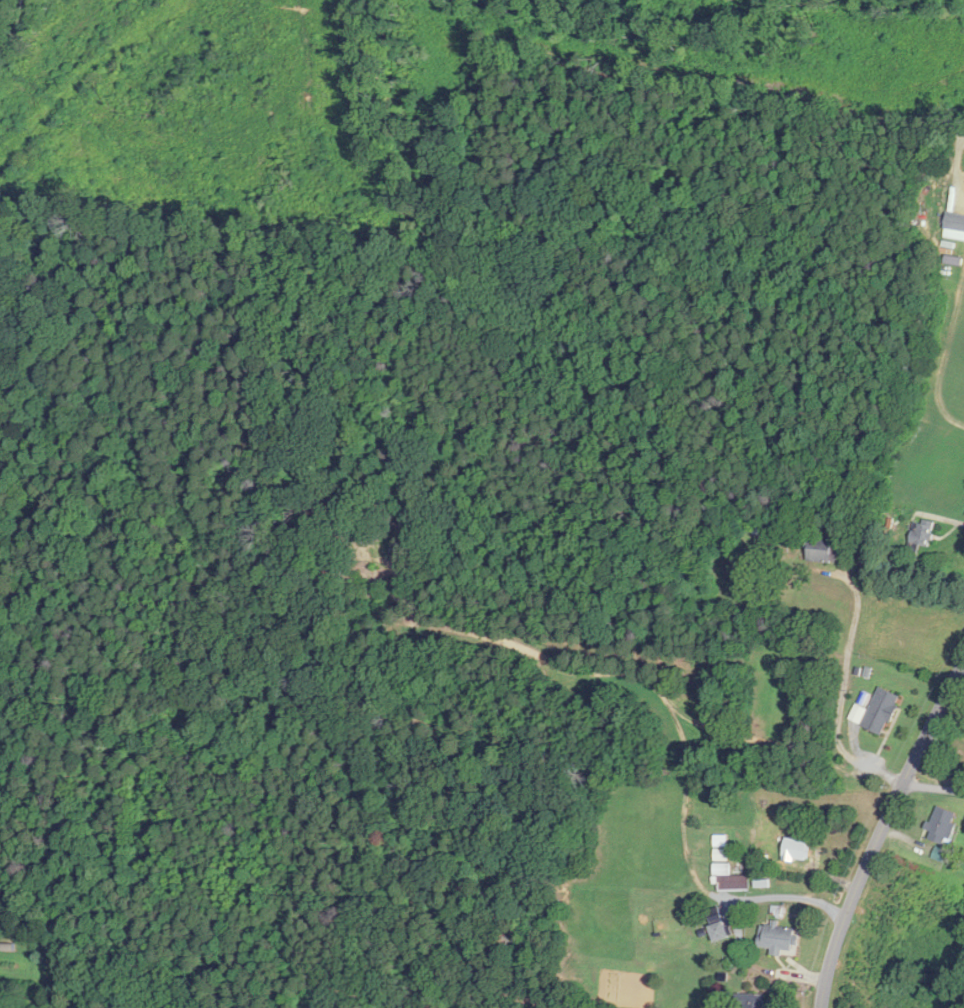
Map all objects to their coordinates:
building: (923, 535)
building: (822, 550)
road: (843, 667)
road: (608, 679)
building: (883, 711)
road: (781, 715)
road: (693, 753)
road: (933, 788)
building: (944, 827)
road: (882, 830)
building: (794, 853)
building: (727, 868)
road: (788, 896)
building: (721, 932)
building: (780, 938)
building: (757, 1001)

